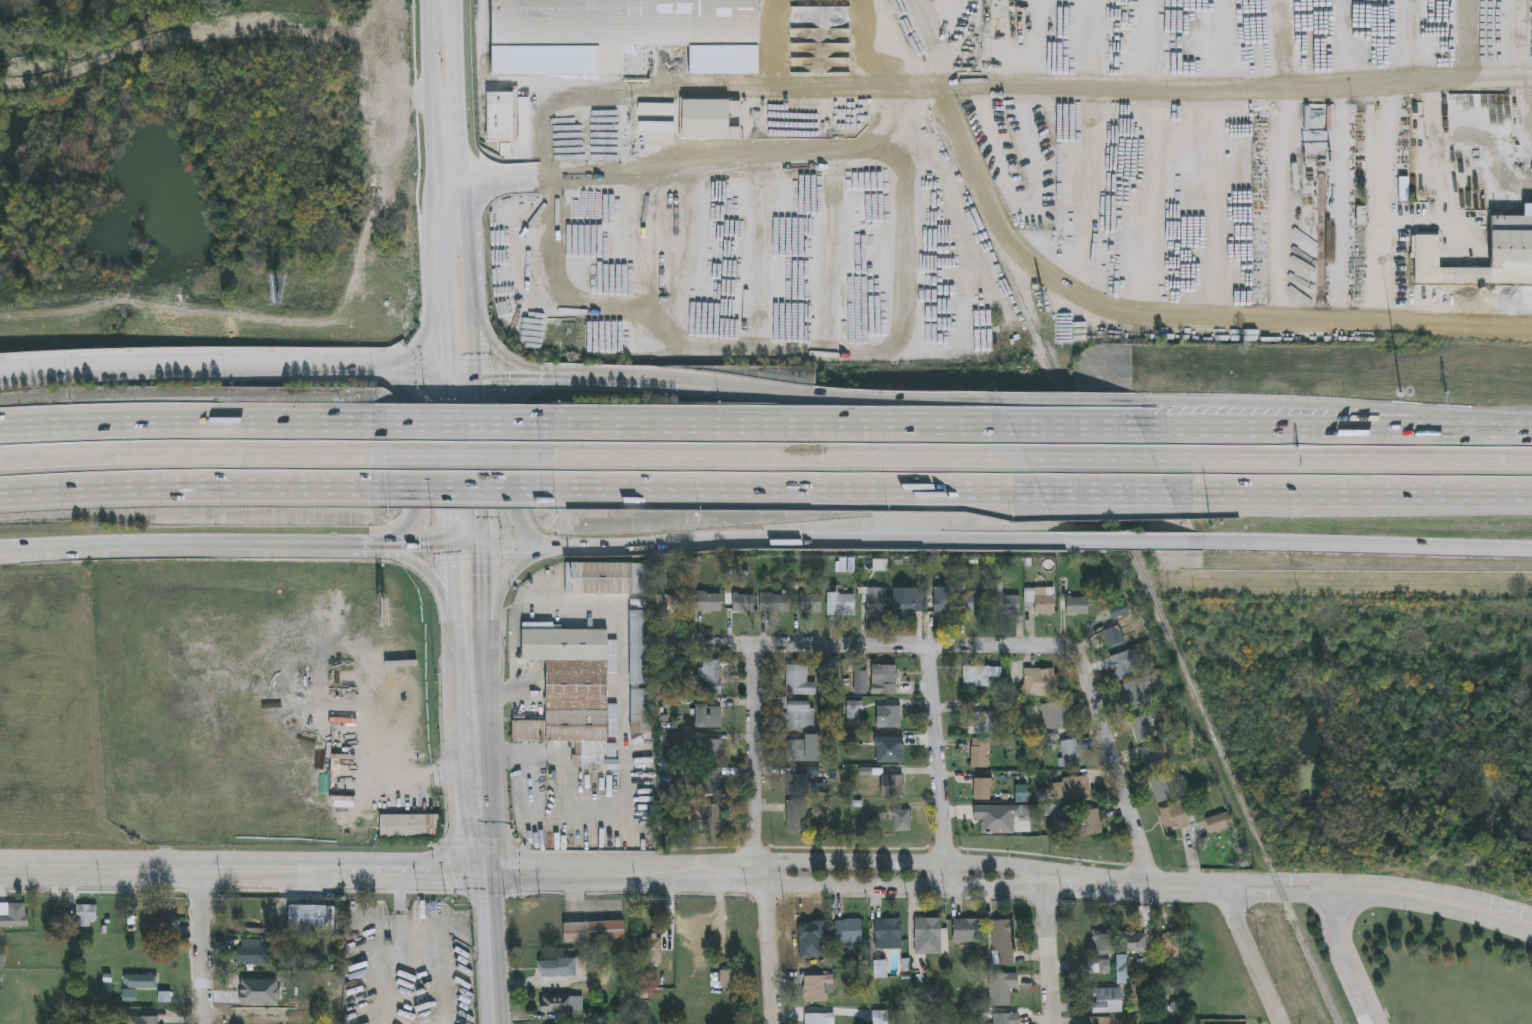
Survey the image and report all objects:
building: (623, 22)
road: (1214, 90)
road: (899, 101)
building: (499, 117)
building: (711, 120)
road: (436, 128)
road: (467, 189)
building: (1509, 253)
road: (442, 291)
road: (770, 352)
road: (418, 353)
road: (502, 353)
road: (445, 354)
road: (49, 373)
road: (243, 375)
road: (426, 376)
traffic signals: (465, 376)
road: (503, 376)
road: (556, 376)
road: (643, 377)
road: (49, 378)
road: (524, 386)
road: (404, 388)
road: (858, 396)
road: (1064, 401)
road: (1307, 405)
road: (192, 425)
road: (460, 425)
road: (774, 427)
road: (1077, 429)
road: (1313, 429)
road: (1508, 430)
road: (513, 456)
road: (193, 457)
road: (462, 457)
road: (416, 459)
road: (783, 459)
road: (1091, 460)
road: (467, 461)
road: (1343, 461)
building: (389, 466)
building: (559, 469)
road: (193, 488)
road: (464, 488)
road: (791, 490)
road: (1105, 492)
road: (1350, 492)
railway: (1114, 511)
road: (526, 531)
road: (404, 532)
road: (1127, 542)
road: (1360, 544)
road: (767, 545)
road: (350, 547)
road: (427, 547)
traffic signals: (470, 547)
road: (157, 548)
building: (606, 581)
road: (438, 586)
road: (501, 590)
road: (471, 596)
building: (1041, 600)
building: (945, 601)
building: (878, 602)
building: (905, 602)
building: (978, 603)
building: (678, 604)
building: (709, 604)
building: (775, 604)
building: (811, 604)
building: (745, 605)
building: (1008, 605)
building: (842, 606)
building: (1078, 608)
building: (1116, 624)
road: (889, 648)
building: (642, 649)
building: (1124, 667)
building: (713, 678)
building: (981, 678)
building: (827, 679)
building: (885, 681)
building: (800, 683)
building: (862, 684)
building: (1040, 684)
building: (569, 690)
building: (1133, 697)
building: (642, 713)
building: (801, 716)
building: (1055, 717)
building: (710, 718)
building: (890, 718)
building: (981, 722)
building: (1142, 730)
building: (804, 751)
building: (711, 752)
building: (981, 754)
building: (1070, 754)
building: (895, 755)
road: (476, 758)
building: (1152, 758)
road: (1116, 763)
road: (939, 767)
road: (570, 769)
road: (418, 777)
road: (623, 778)
building: (713, 784)
building: (800, 787)
building: (894, 787)
building: (1162, 788)
building: (1073, 790)
building: (985, 791)
building: (1021, 815)
building: (1175, 817)
building: (797, 818)
building: (714, 819)
building: (904, 821)
building: (986, 822)
building: (1089, 823)
building: (1220, 823)
building: (409, 826)
building: (274, 831)
road: (759, 837)
road: (902, 861)
road: (380, 871)
traffic signals: (485, 871)
road: (1099, 884)
road: (903, 887)
road: (1377, 893)
building: (14, 915)
building: (85, 915)
building: (157, 915)
building: (315, 918)
road: (1237, 925)
building: (968, 932)
building: (595, 933)
building: (850, 933)
building: (889, 935)
building: (929, 937)
building: (1169, 943)
building: (1004, 944)
building: (1103, 944)
building: (1137, 944)
road: (491, 947)
building: (656, 947)
road: (203, 948)
road: (1049, 951)
building: (251, 953)
road: (1345, 959)
building: (1, 960)
building: (1122, 967)
building: (1100, 968)
building: (556, 969)
building: (727, 980)
building: (141, 981)
building: (0, 983)
building: (106, 984)
building: (1002, 989)
building: (820, 990)
building: (927, 995)
building: (129, 996)
building: (163, 998)
building: (1108, 1002)
building: (557, 1006)
building: (819, 1019)
building: (1007, 1019)
building: (142, 1020)

